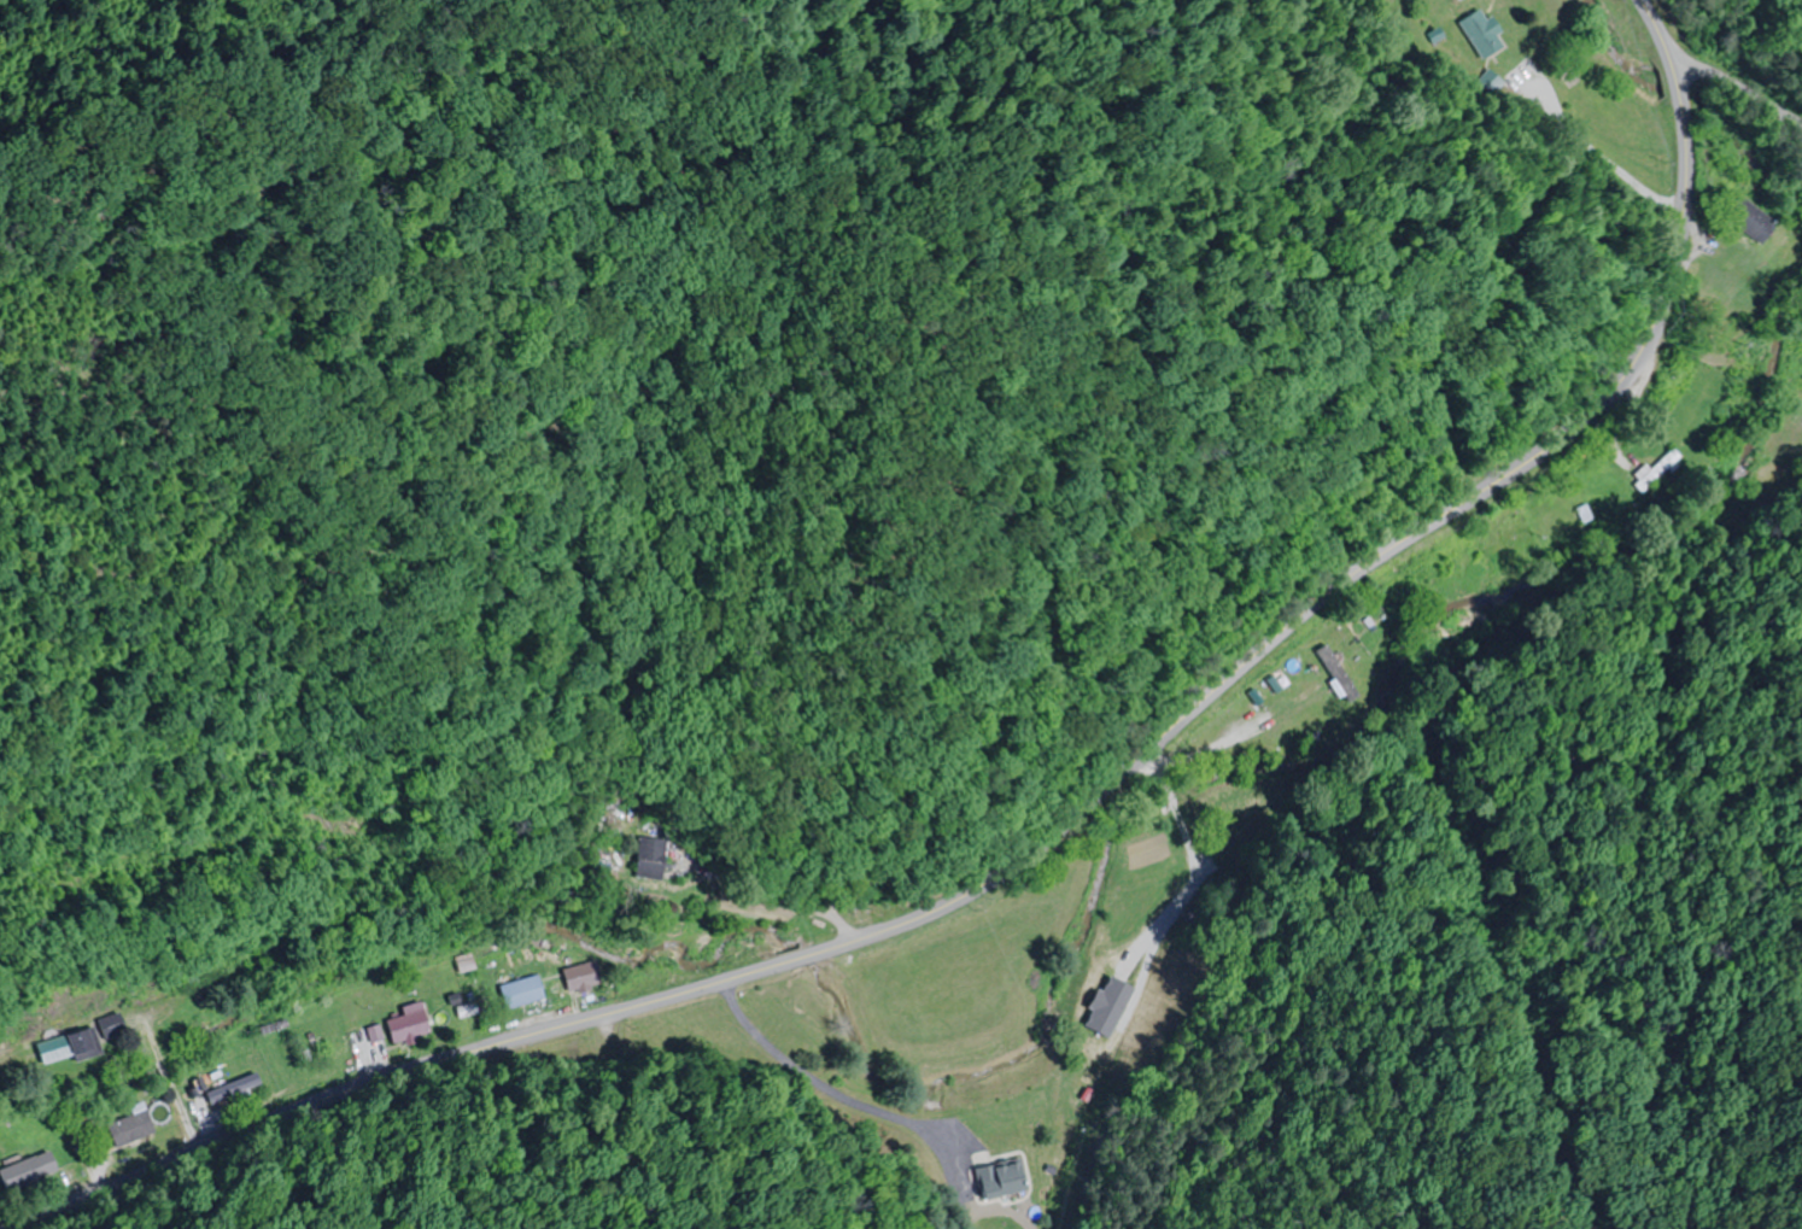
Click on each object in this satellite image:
building: (1450, 0)
building: (1481, 34)
road: (1738, 83)
building: (1747, 218)
road: (1727, 359)
building: (1658, 472)
building: (1409, 590)
building: (1334, 671)
road: (1059, 827)
building: (653, 858)
building: (586, 978)
building: (525, 993)
building: (210, 1001)
building: (411, 1024)
building: (1105, 1040)
building: (84, 1043)
building: (232, 1090)
building: (131, 1129)
building: (996, 1158)
building: (29, 1171)

